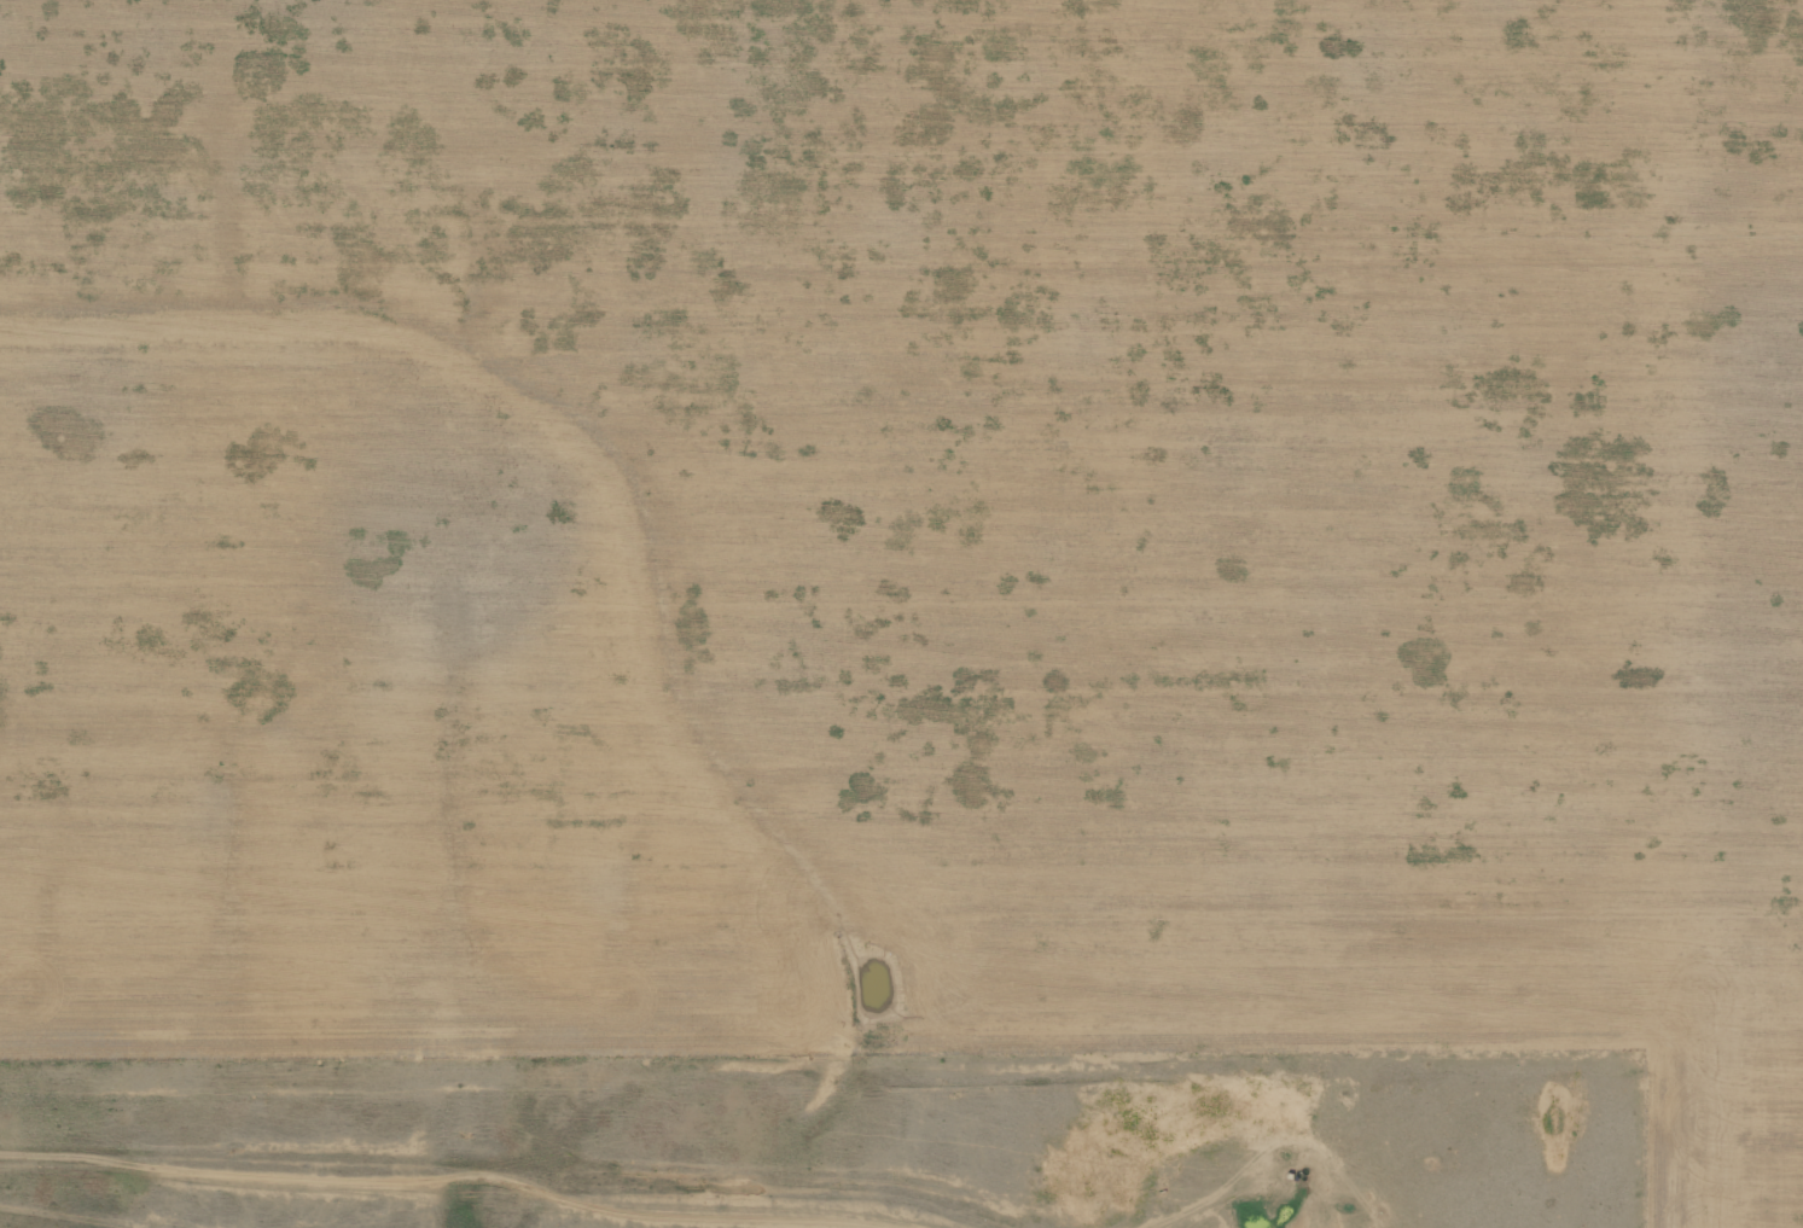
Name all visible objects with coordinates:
road: (66, 1216)

